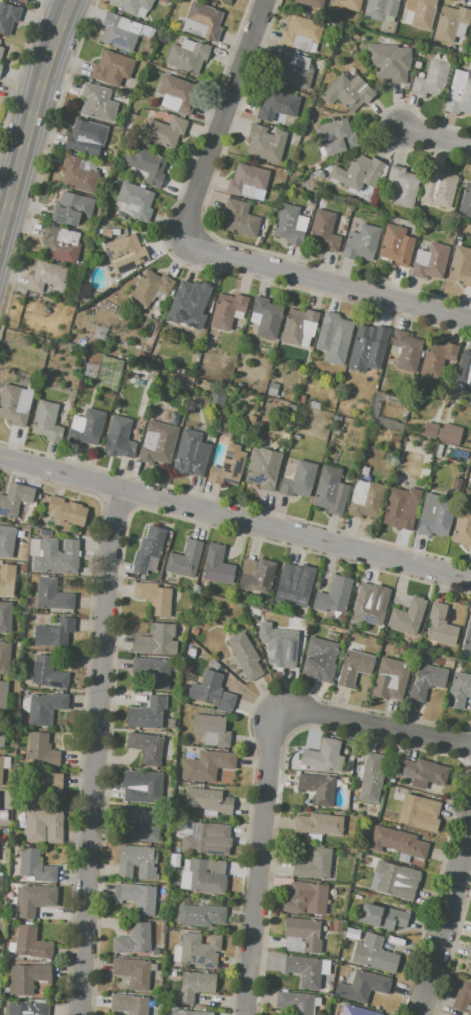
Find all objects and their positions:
building: (25, 1)
building: (225, 1)
building: (311, 3)
building: (345, 4)
building: (131, 5)
building: (381, 8)
building: (421, 12)
building: (8, 17)
building: (202, 21)
building: (451, 23)
building: (118, 32)
building: (301, 32)
building: (1, 50)
building: (187, 56)
building: (389, 61)
building: (0, 66)
building: (112, 68)
building: (294, 70)
building: (431, 79)
building: (348, 93)
building: (459, 93)
building: (177, 94)
building: (98, 102)
building: (277, 105)
road: (32, 116)
road: (223, 117)
building: (165, 131)
building: (85, 134)
building: (336, 136)
road: (435, 137)
building: (265, 143)
building: (146, 165)
building: (358, 173)
building: (77, 175)
building: (246, 181)
building: (403, 186)
building: (438, 187)
building: (136, 200)
building: (465, 202)
building: (71, 208)
building: (240, 218)
building: (290, 225)
building: (323, 230)
building: (106, 233)
building: (361, 243)
building: (61, 245)
building: (396, 245)
building: (125, 253)
building: (429, 262)
building: (461, 265)
building: (47, 276)
road: (327, 282)
building: (151, 288)
building: (186, 305)
building: (228, 310)
building: (267, 317)
building: (299, 326)
building: (338, 332)
power tower: (99, 335)
building: (368, 350)
building: (407, 350)
building: (437, 358)
building: (465, 371)
power tower: (89, 374)
building: (240, 386)
building: (273, 389)
building: (469, 398)
building: (218, 399)
building: (303, 399)
building: (85, 400)
building: (397, 402)
building: (15, 404)
building: (315, 405)
building: (291, 407)
building: (336, 418)
building: (47, 421)
building: (86, 427)
building: (433, 431)
building: (336, 432)
building: (119, 436)
building: (454, 436)
building: (394, 439)
building: (157, 443)
building: (439, 451)
building: (191, 454)
building: (229, 467)
building: (263, 468)
building: (299, 480)
building: (330, 491)
building: (15, 499)
building: (366, 499)
building: (401, 507)
building: (67, 510)
building: (435, 516)
road: (235, 517)
building: (463, 529)
building: (45, 533)
building: (6, 540)
building: (148, 548)
building: (56, 556)
building: (184, 559)
building: (217, 566)
building: (257, 573)
building: (7, 579)
building: (294, 584)
building: (52, 595)
building: (334, 595)
building: (153, 597)
building: (367, 606)
building: (5, 616)
building: (407, 617)
building: (441, 625)
building: (54, 633)
building: (468, 637)
building: (157, 640)
building: (283, 645)
building: (244, 656)
building: (5, 657)
building: (319, 659)
building: (213, 664)
building: (354, 667)
building: (153, 670)
building: (47, 673)
building: (390, 678)
building: (427, 680)
building: (459, 690)
building: (211, 691)
building: (3, 694)
building: (45, 708)
building: (147, 713)
road: (377, 726)
building: (211, 730)
building: (2, 736)
building: (146, 747)
building: (41, 751)
road: (99, 751)
building: (322, 755)
building: (207, 765)
building: (1, 768)
building: (423, 772)
building: (371, 778)
building: (40, 785)
building: (317, 787)
building: (144, 789)
building: (209, 800)
building: (416, 809)
building: (142, 824)
building: (319, 824)
building: (44, 825)
building: (203, 837)
building: (397, 843)
building: (137, 862)
road: (259, 863)
building: (313, 864)
building: (35, 866)
building: (207, 876)
building: (394, 883)
building: (137, 897)
building: (305, 898)
building: (33, 899)
building: (201, 915)
building: (382, 916)
road: (446, 923)
building: (337, 926)
building: (305, 933)
building: (134, 939)
building: (31, 943)
building: (199, 950)
building: (373, 954)
building: (304, 970)
building: (133, 972)
building: (470, 972)
building: (27, 978)
building: (194, 986)
building: (362, 986)
building: (464, 997)
building: (295, 1002)
building: (129, 1004)
building: (29, 1009)
building: (357, 1011)
building: (192, 1012)

